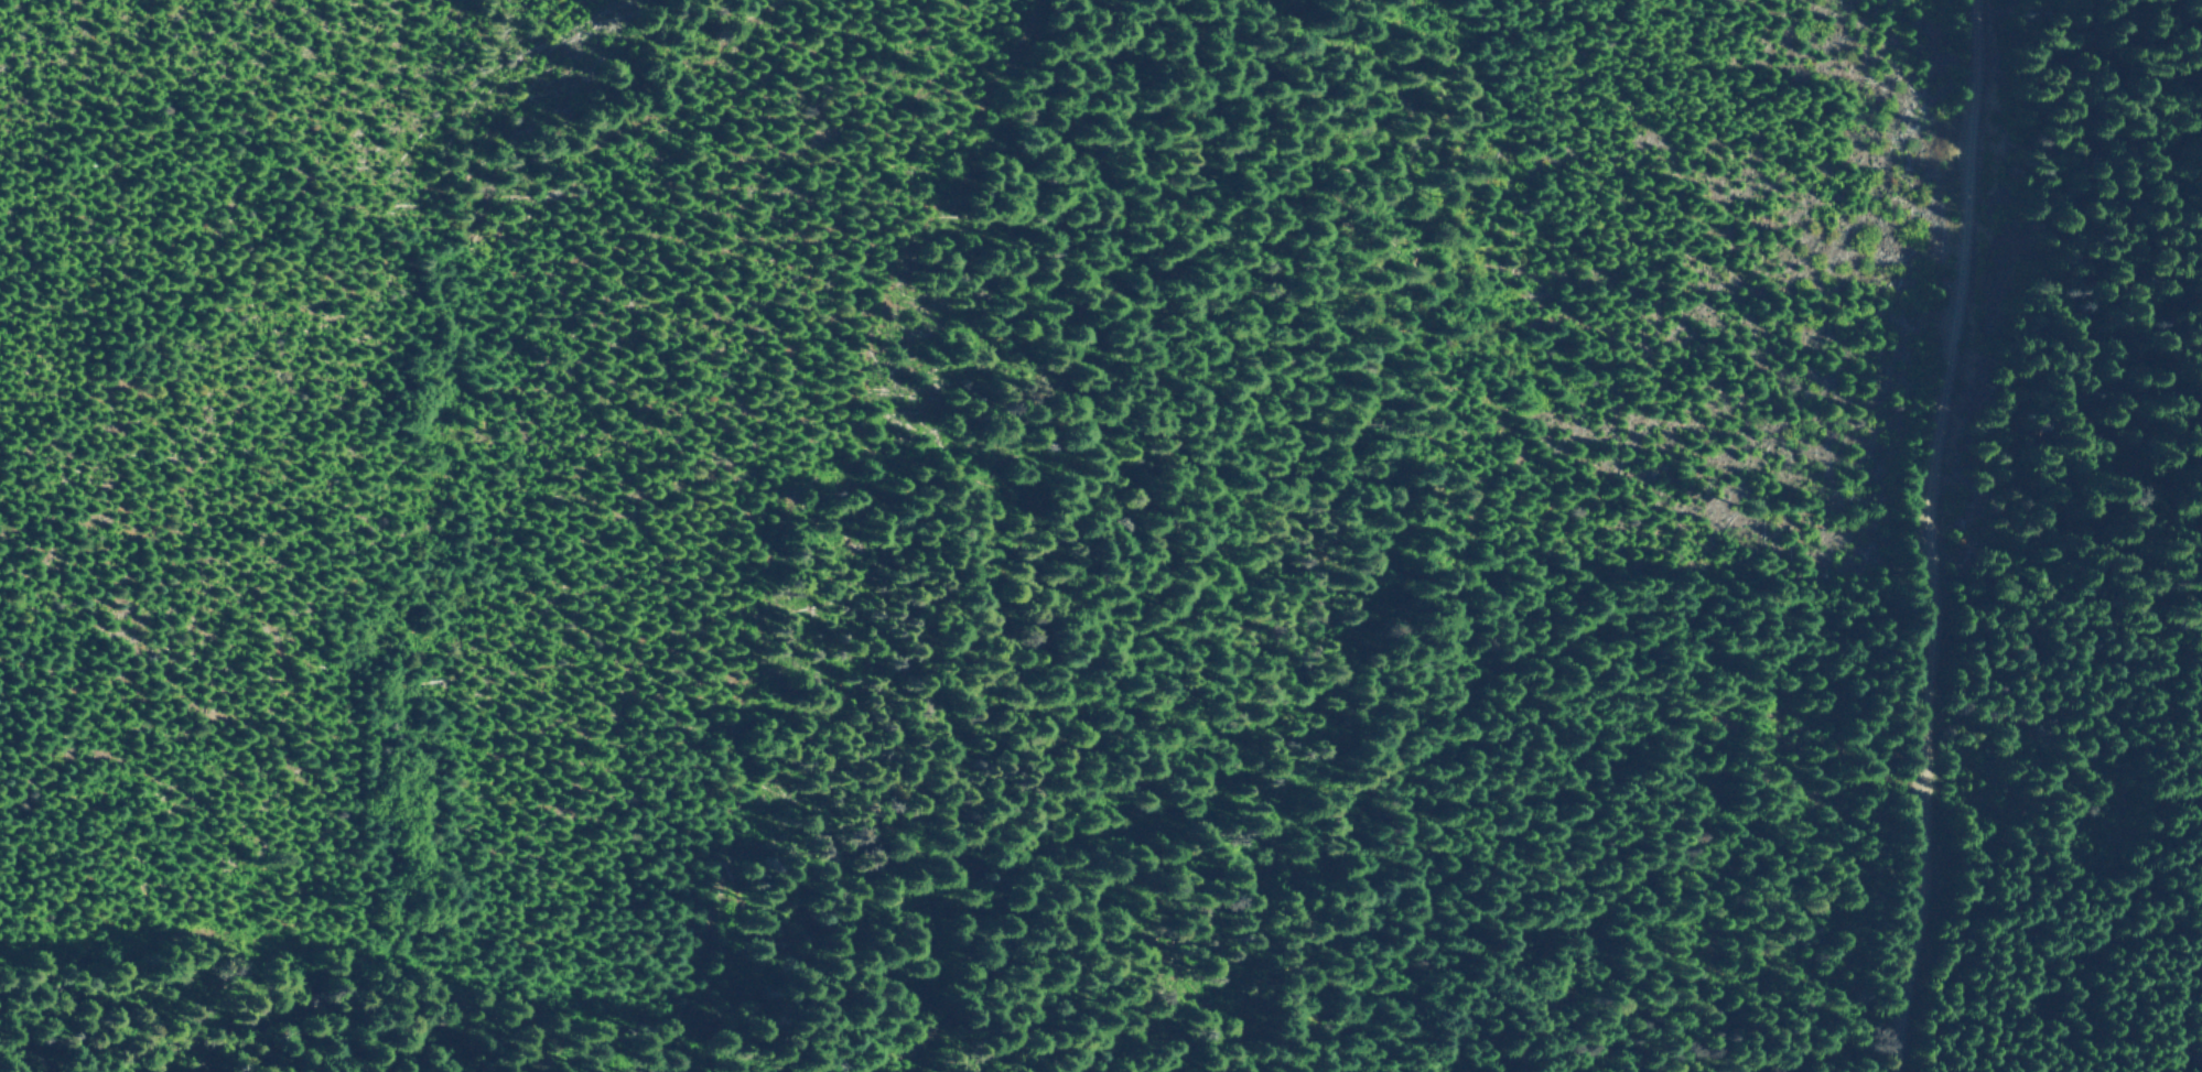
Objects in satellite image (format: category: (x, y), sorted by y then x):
road: (1925, 535)

